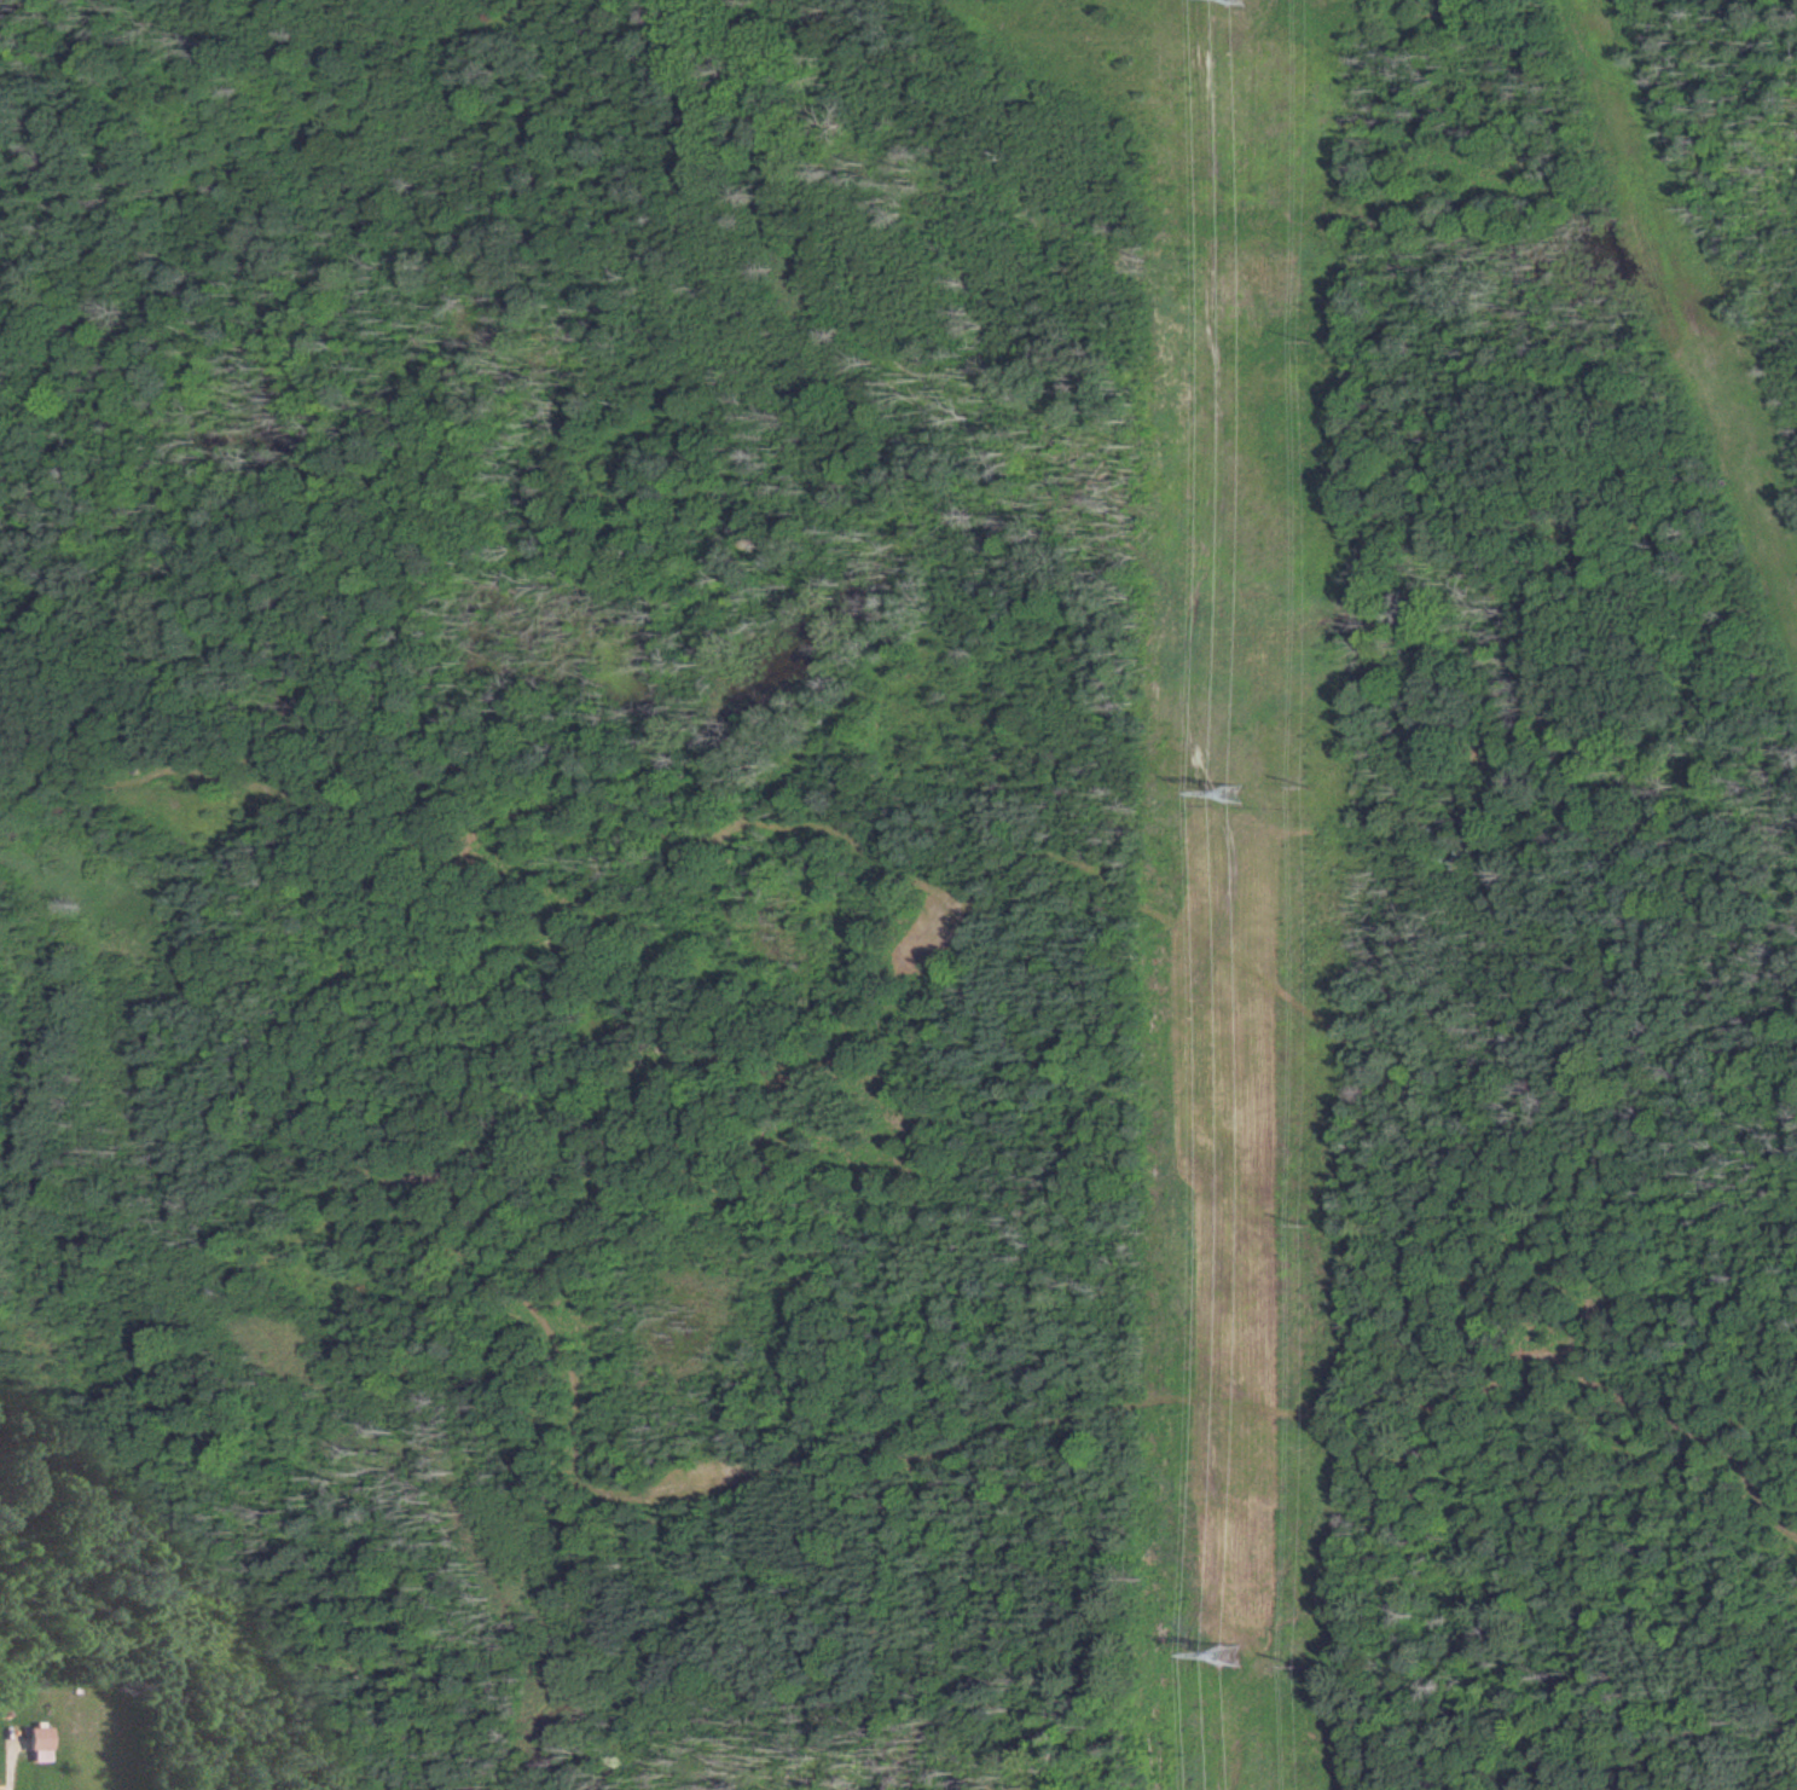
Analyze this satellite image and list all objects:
power tower: (1230, 792)
power tower: (1231, 1655)
building: (45, 1737)

